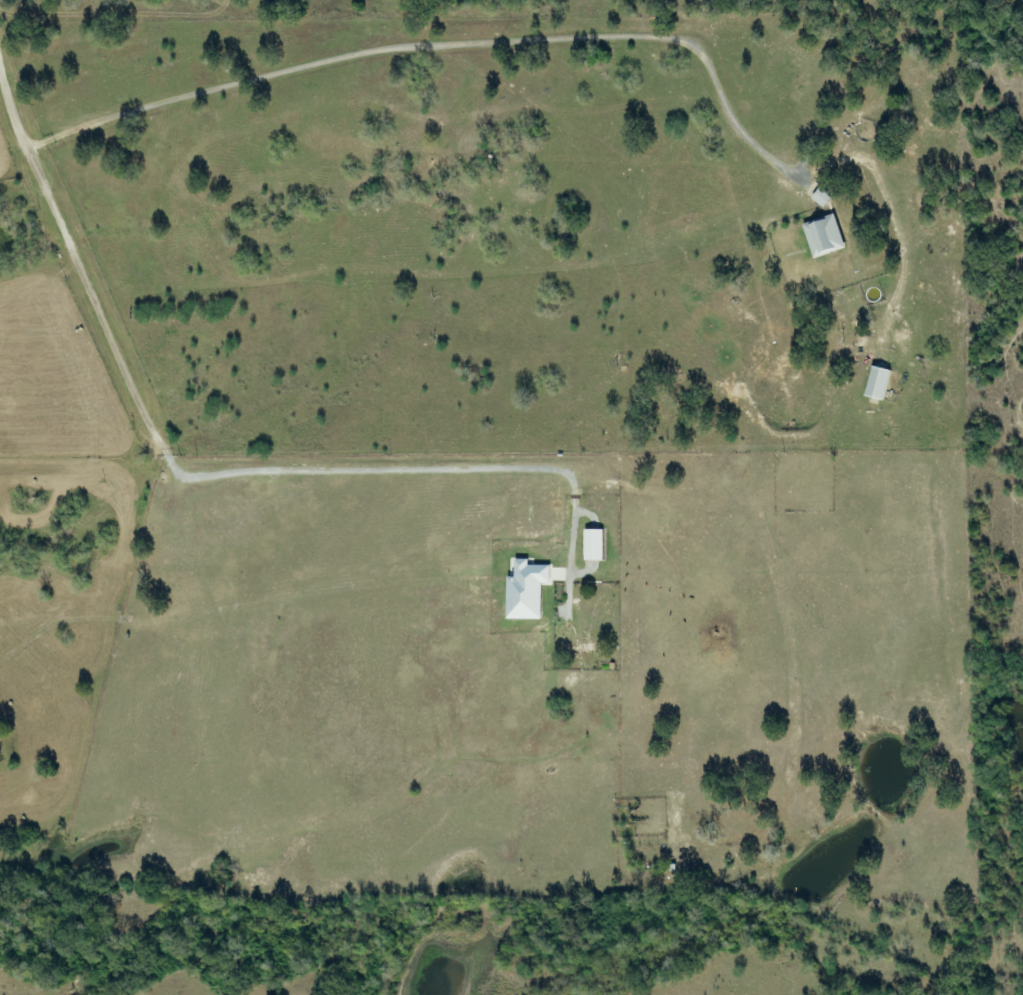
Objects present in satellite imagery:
road: (10, 114)
building: (827, 236)
building: (881, 383)
building: (597, 545)

